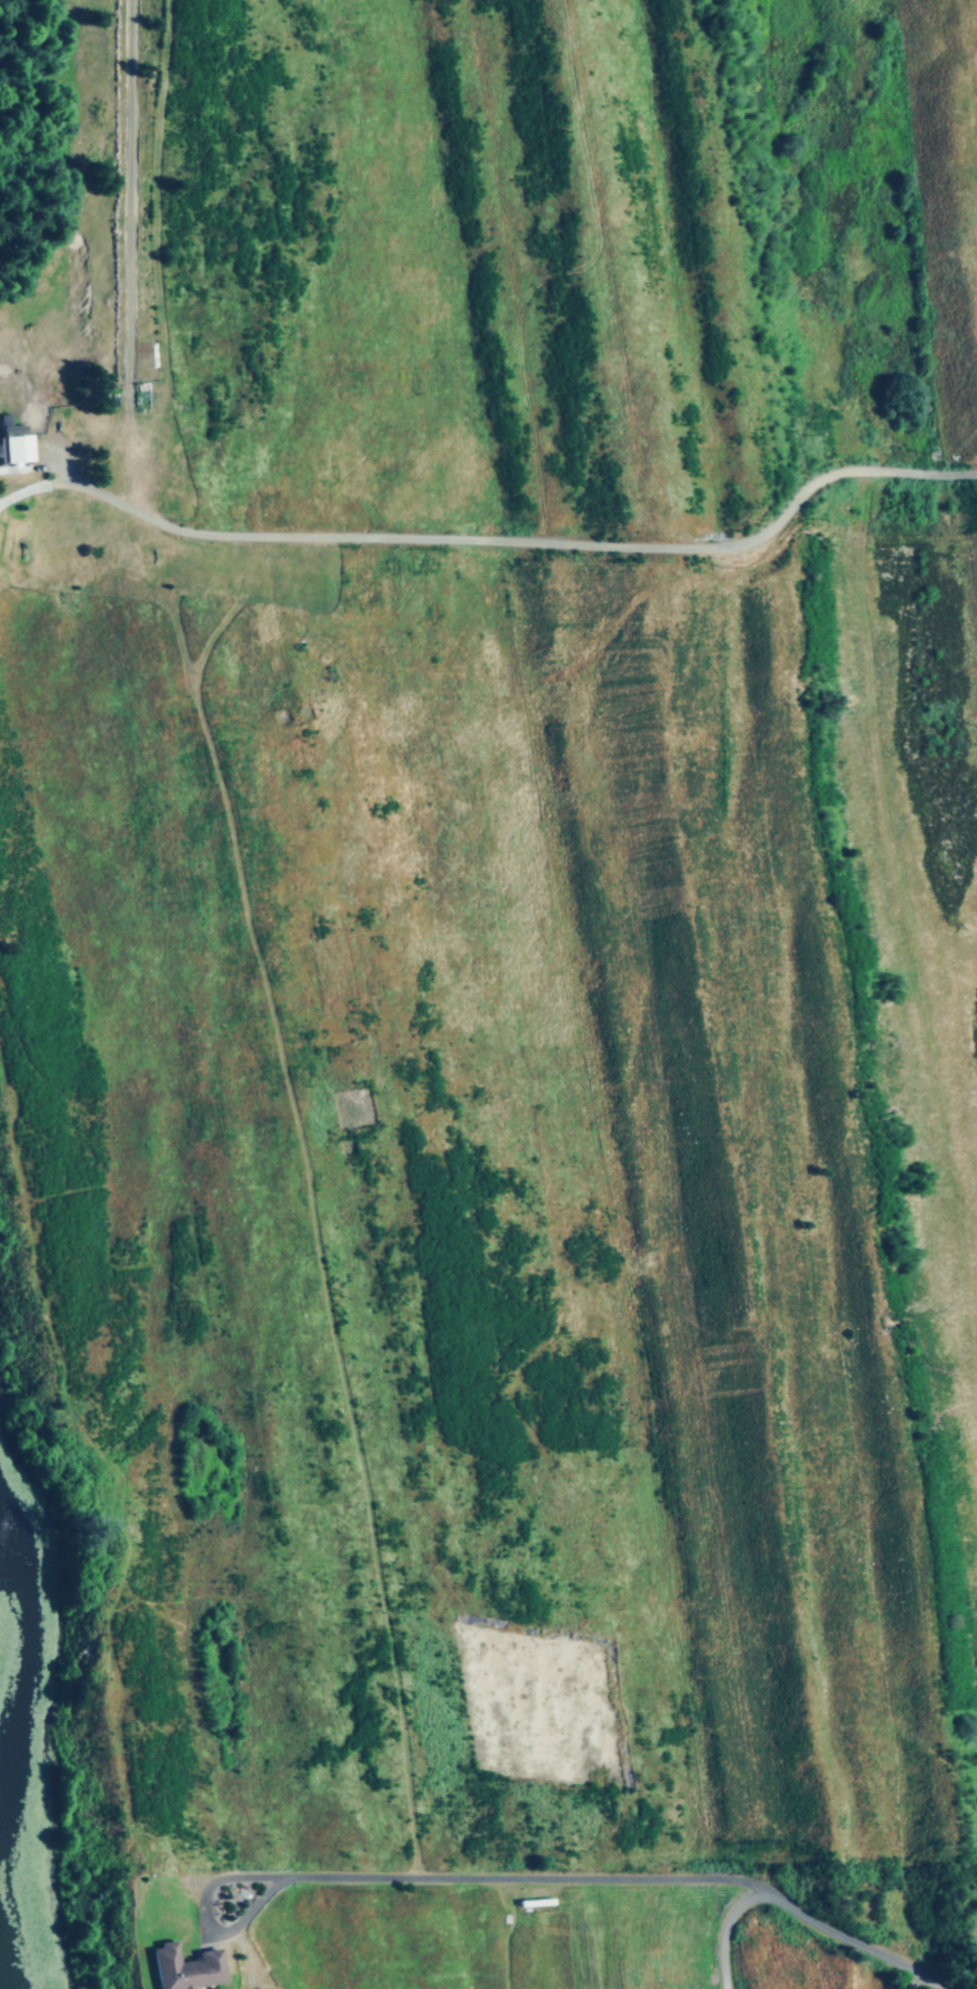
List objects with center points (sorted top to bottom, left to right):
building: (127, 398)
building: (15, 443)
road: (497, 547)
road: (422, 1878)
road: (804, 1914)
building: (182, 1968)

